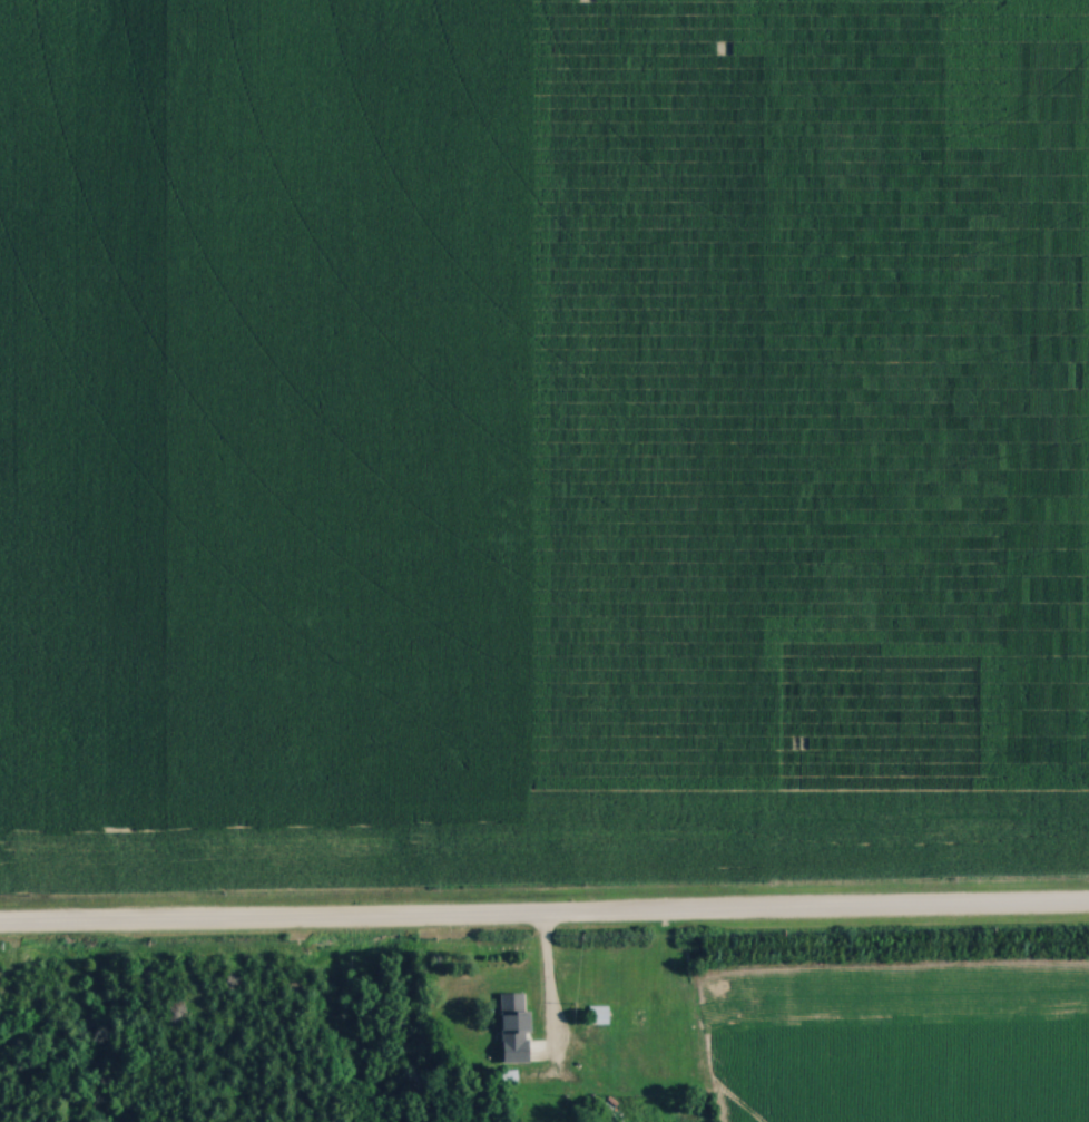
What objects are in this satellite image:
road: (543, 913)
road: (543, 986)
building: (600, 1015)
building: (513, 1018)

